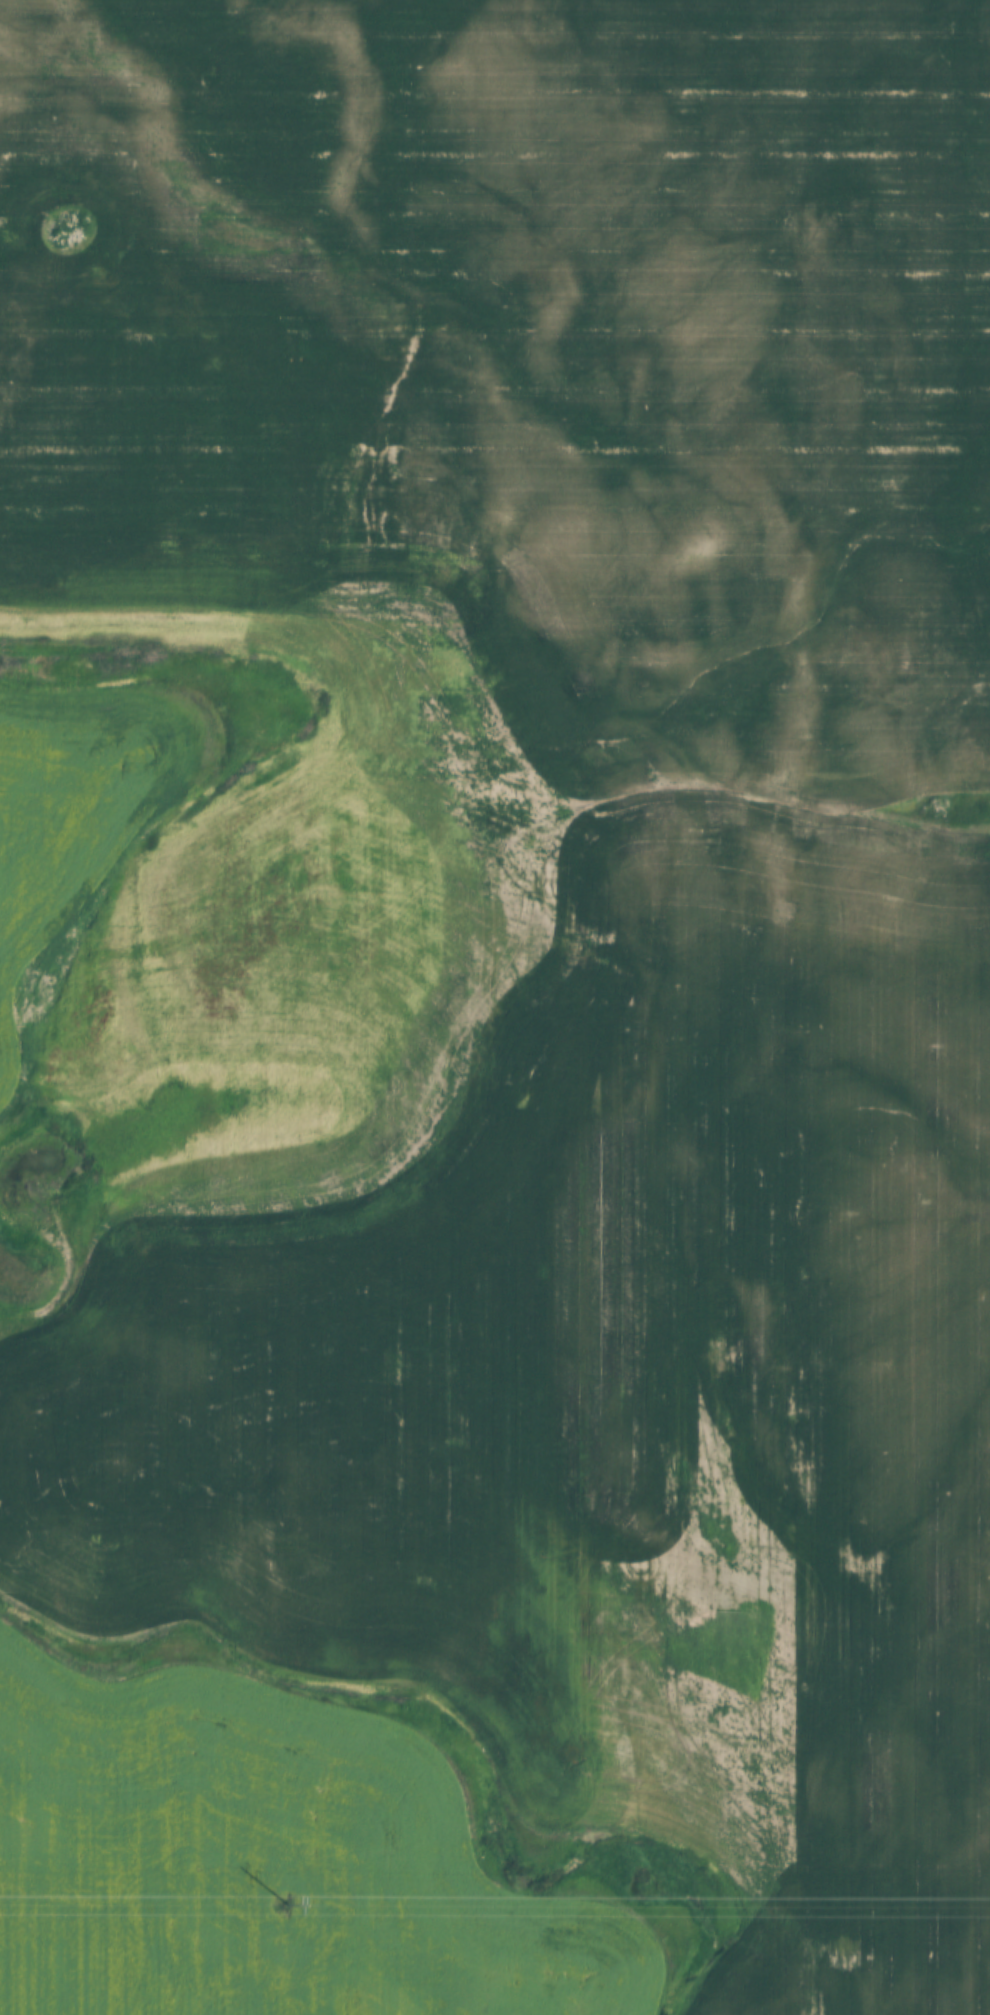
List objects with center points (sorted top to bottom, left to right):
power tower: (284, 1902)

